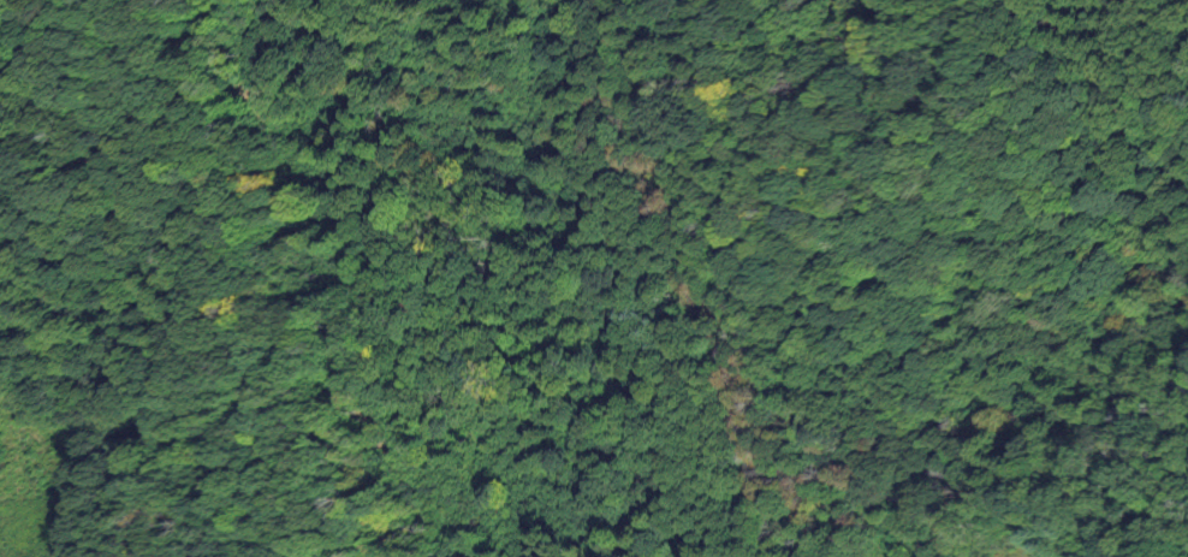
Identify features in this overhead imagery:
building: (890, 521)

